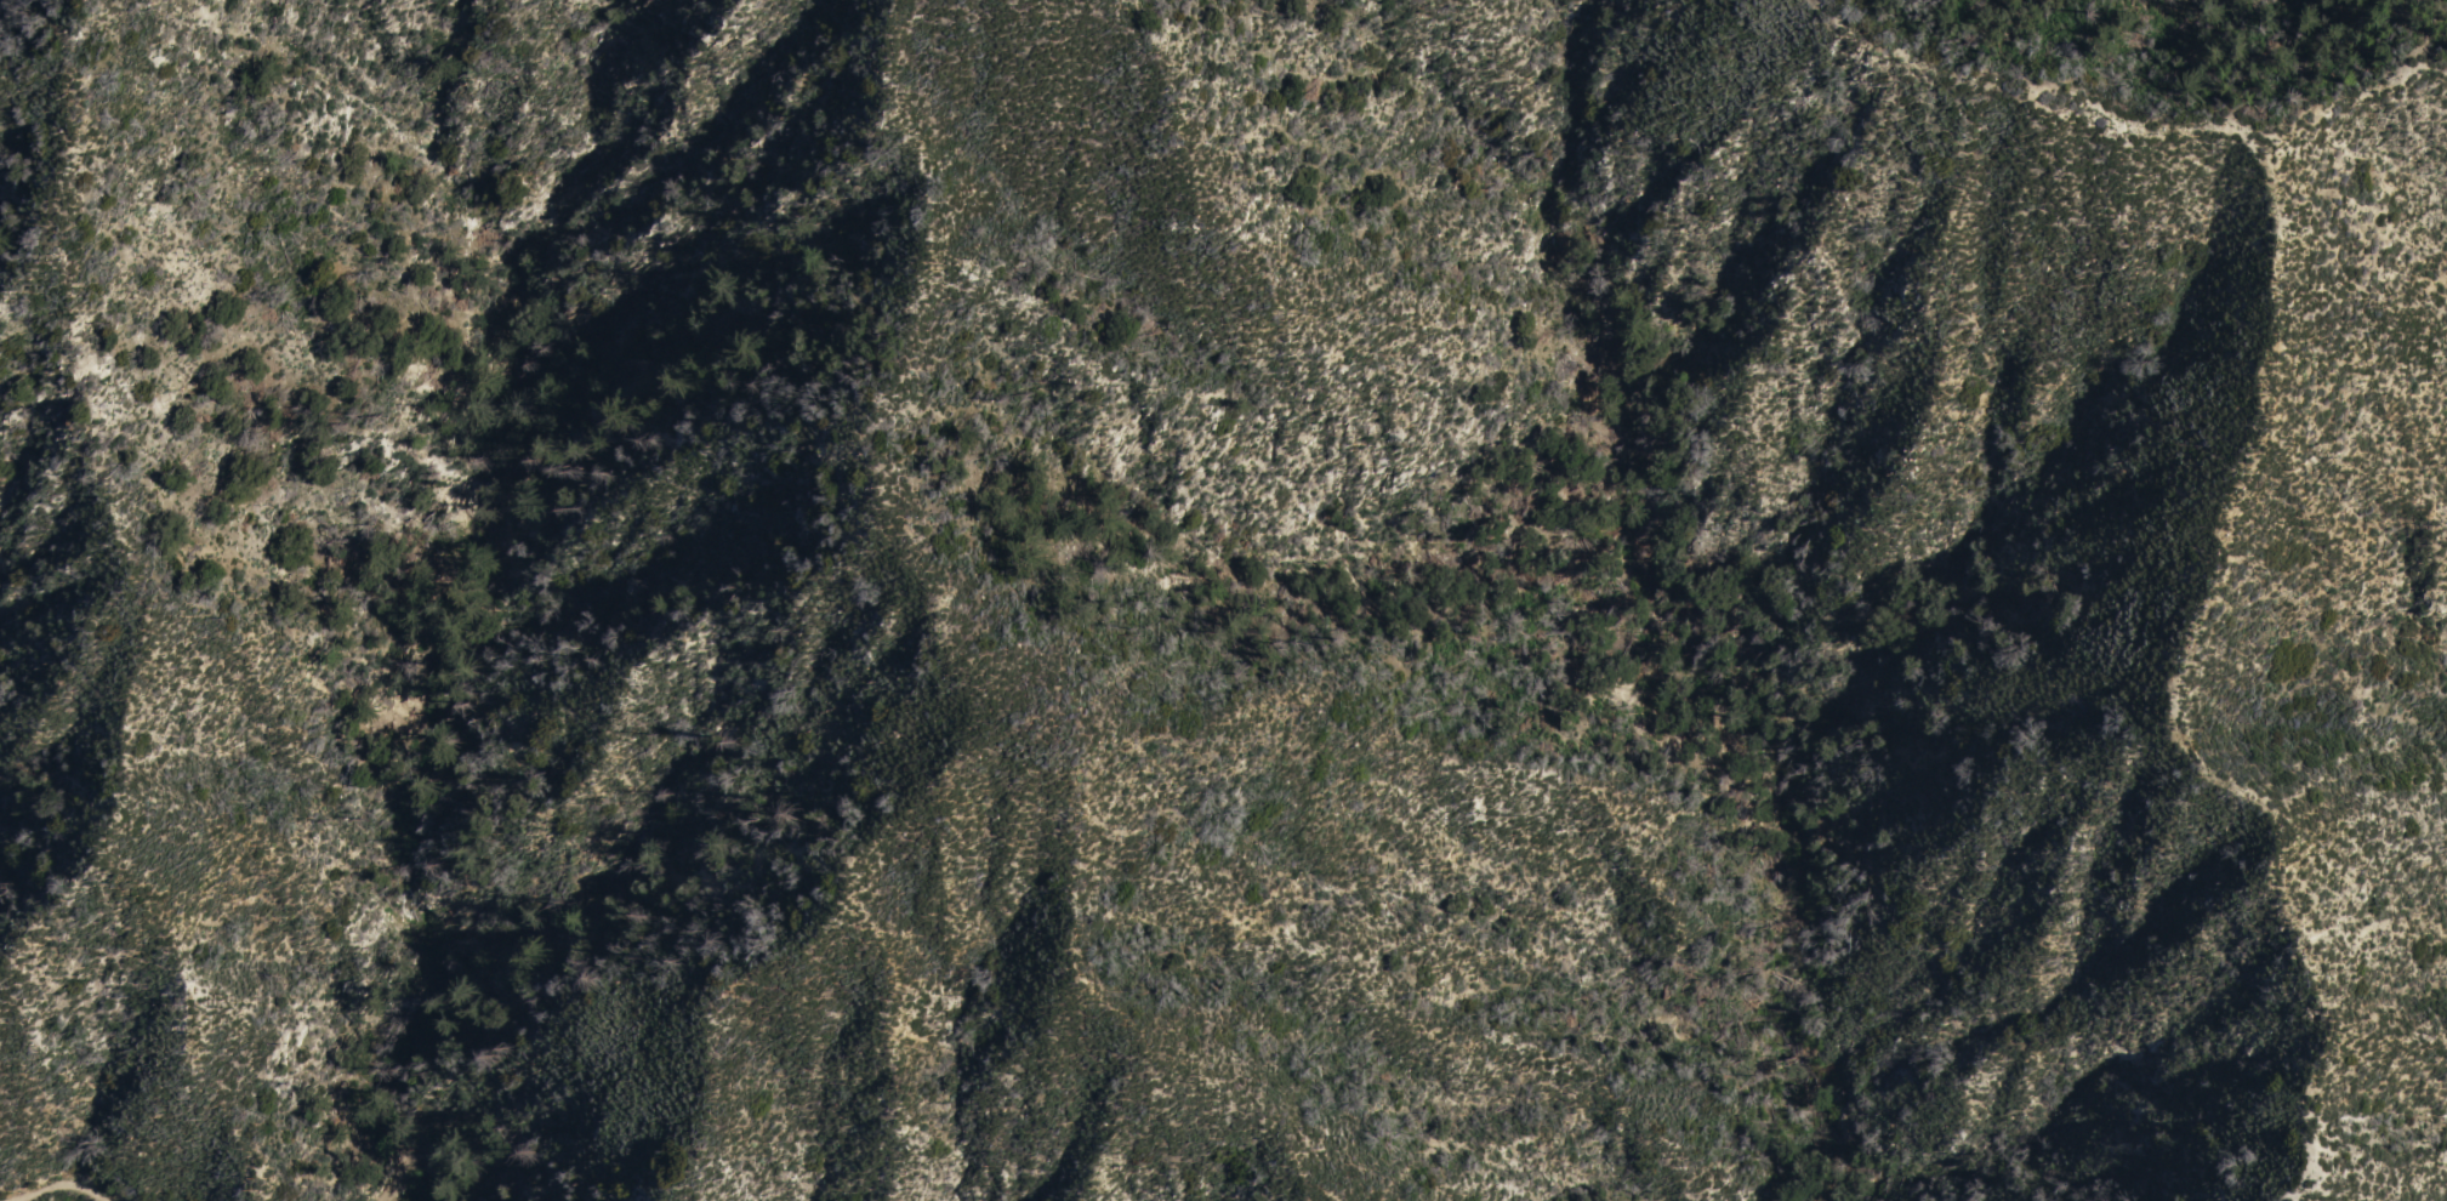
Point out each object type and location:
road: (415, 1163)
road: (46, 1195)

